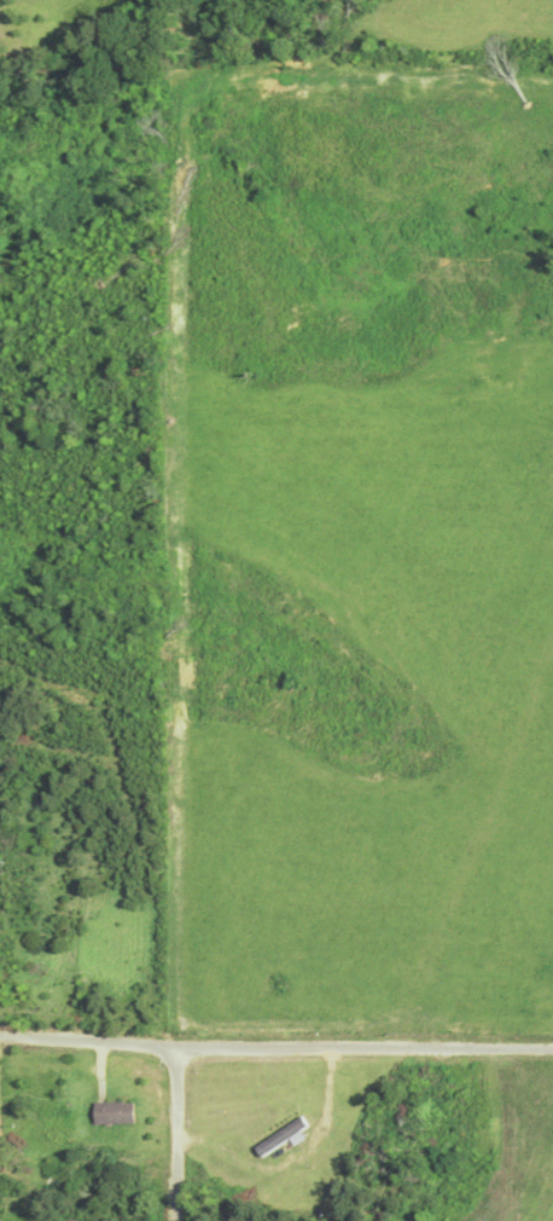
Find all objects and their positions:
road: (275, 1048)
building: (113, 1112)
road: (179, 1132)

